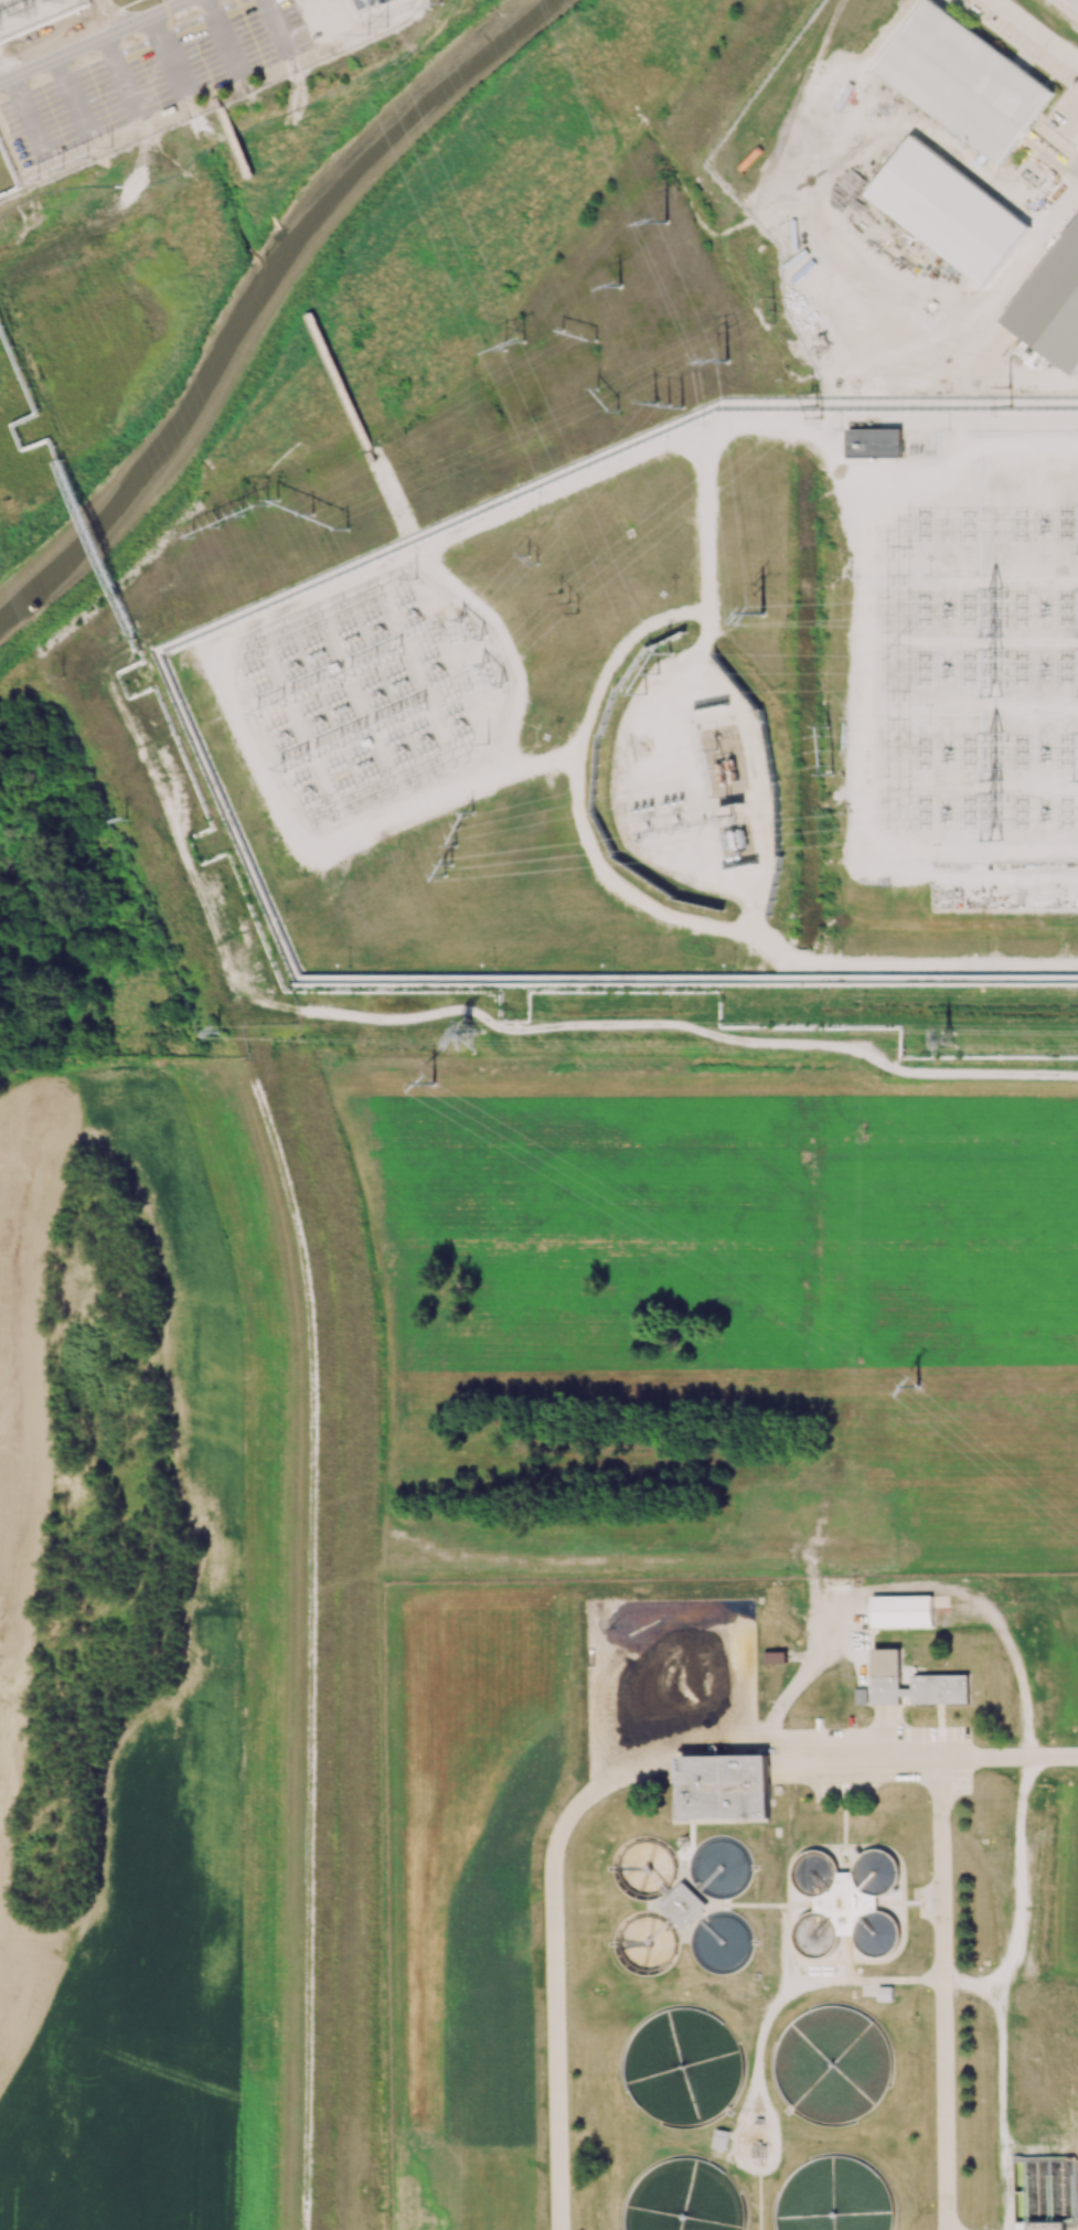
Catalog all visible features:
power tower: (46, 10)
power tower: (15, 21)
road: (1036, 30)
power tower: (375, 31)
road: (87, 40)
power tower: (100, 153)
power tower: (75, 163)
road: (1075, 166)
power tower: (52, 173)
power tower: (666, 223)
power tower: (619, 288)
river: (268, 292)
power tower: (776, 309)
power tower: (580, 337)
power tower: (517, 348)
power tower: (727, 364)
power tower: (1008, 390)
power tower: (607, 403)
power tower: (816, 406)
power tower: (666, 407)
power tower: (1012, 408)
road: (735, 426)
power tower: (254, 510)
power plant: (564, 511)
power tower: (312, 515)
power tower: (230, 522)
power tower: (205, 532)
power tower: (533, 561)
power tower: (570, 604)
power tower: (1003, 607)
power tower: (764, 615)
power tower: (471, 628)
power substation: (965, 642)
power tower: (388, 657)
power tower: (364, 668)
power tower: (996, 670)
power tower: (660, 674)
power tower: (491, 675)
power tower: (66, 676)
power substation: (366, 700)
power tower: (351, 736)
power tower: (829, 749)
power tower: (1001, 755)
power tower: (292, 764)
power substation: (680, 802)
power tower: (1000, 815)
power tower: (124, 819)
power tower: (467, 830)
power tower: (448, 871)
power tower: (474, 1028)
power tower: (218, 1034)
power tower: (957, 1041)
power tower: (428, 1082)
road: (292, 1387)
power tower: (918, 1388)
road: (1024, 1752)
wastewater plant: (733, 1902)

